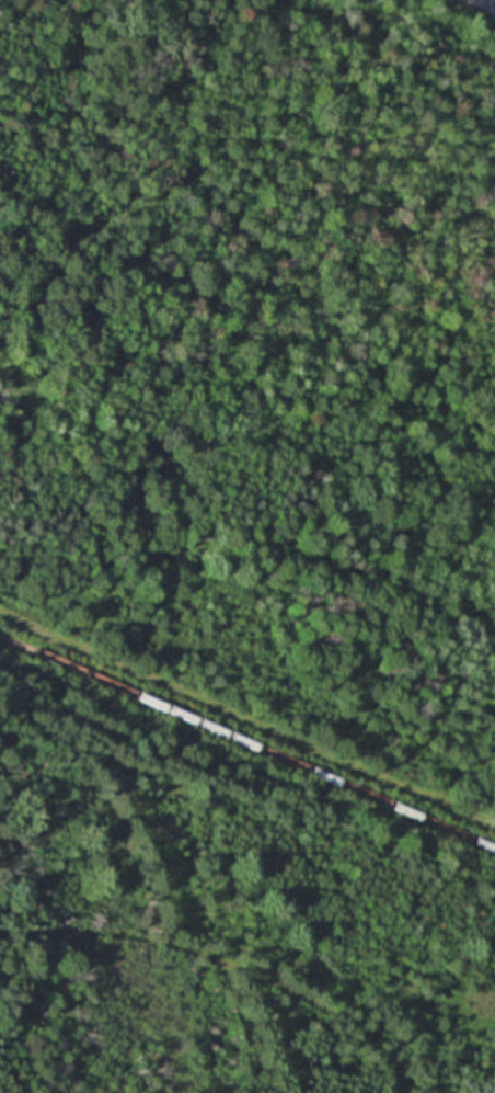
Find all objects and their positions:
railway: (248, 740)

